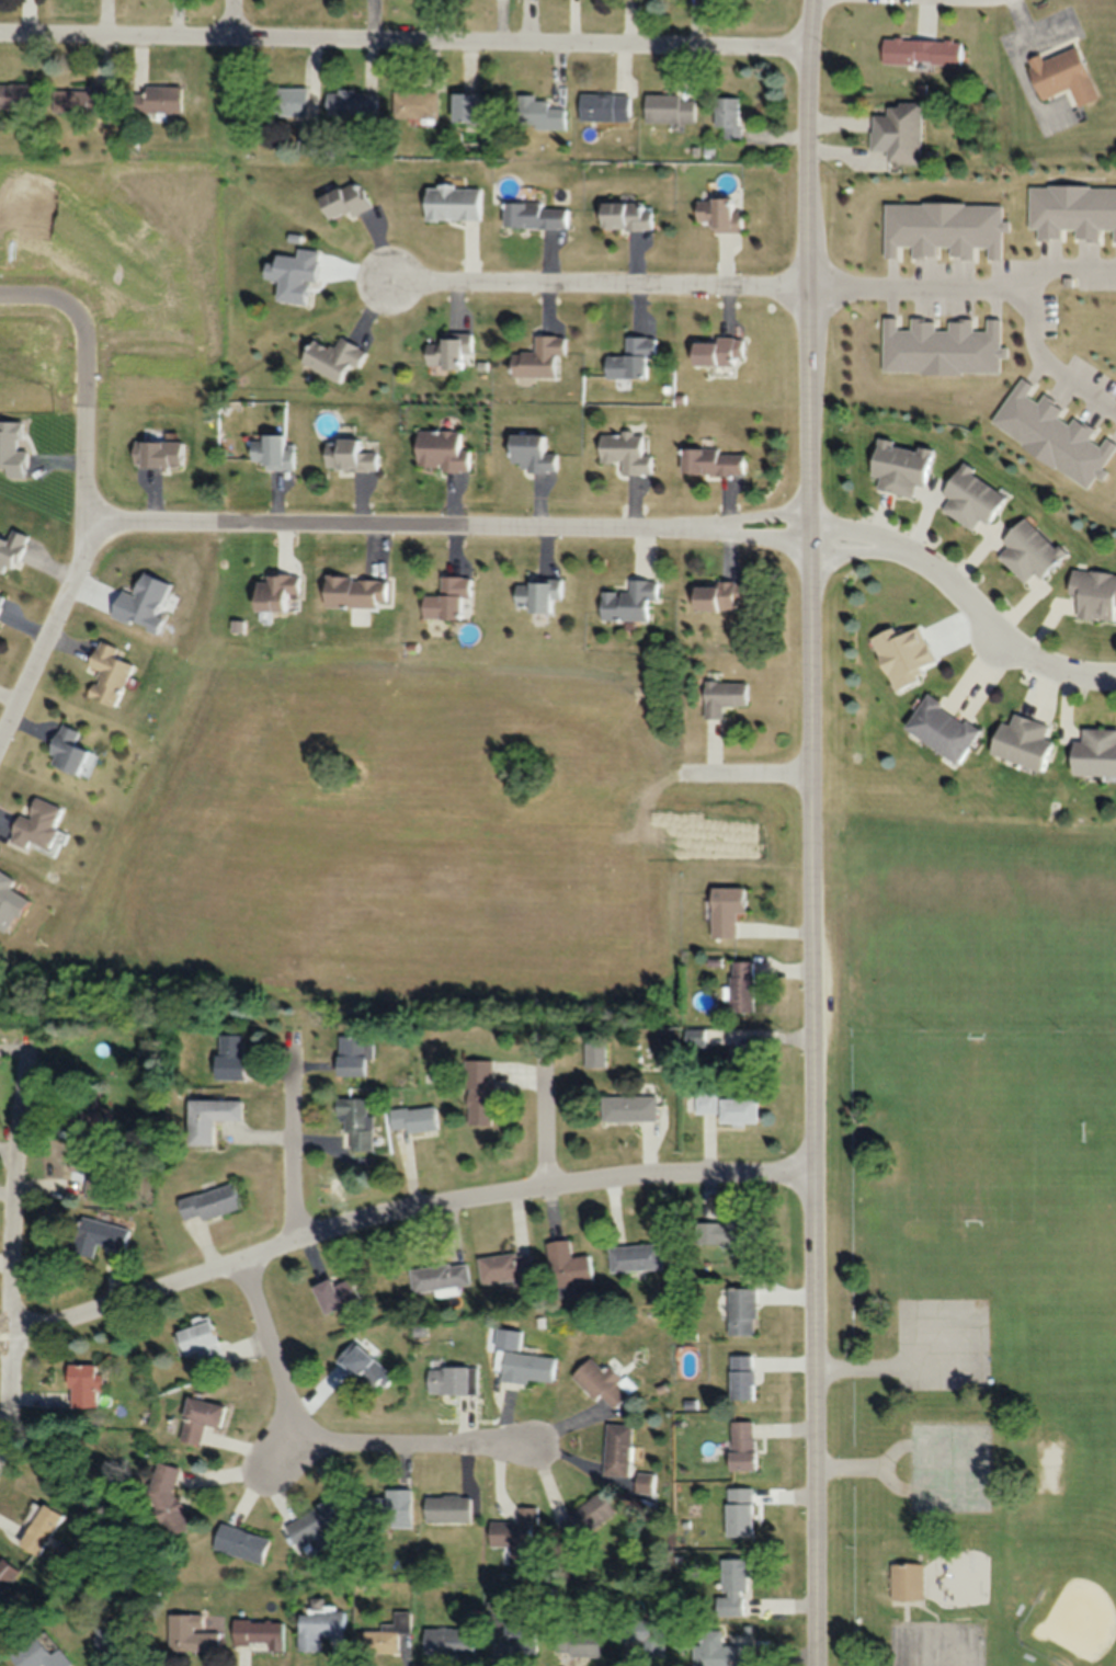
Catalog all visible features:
road: (235, 22)
road: (402, 45)
building: (920, 50)
building: (1060, 76)
building: (13, 95)
building: (81, 99)
building: (152, 100)
building: (289, 100)
building: (352, 103)
building: (414, 104)
building: (604, 106)
building: (474, 107)
building: (661, 107)
building: (539, 113)
building: (727, 115)
building: (898, 132)
building: (342, 199)
building: (452, 202)
building: (717, 213)
building: (624, 214)
building: (535, 215)
road: (1064, 265)
building: (295, 274)
road: (596, 281)
road: (916, 288)
building: (448, 350)
building: (714, 351)
building: (537, 356)
building: (331, 357)
building: (629, 357)
road: (1051, 364)
road: (84, 374)
building: (439, 450)
building: (529, 452)
building: (622, 452)
building: (271, 453)
building: (346, 455)
building: (710, 461)
building: (898, 466)
building: (969, 498)
road: (751, 515)
road: (389, 522)
road: (855, 529)
road: (751, 534)
building: (11, 548)
road: (854, 550)
building: (1026, 550)
building: (354, 591)
building: (273, 592)
building: (1093, 593)
building: (534, 594)
building: (715, 595)
building: (0, 596)
building: (446, 598)
building: (628, 600)
road: (999, 629)
road: (48, 630)
road: (998, 640)
building: (105, 674)
building: (720, 696)
building: (938, 729)
building: (1018, 742)
building: (1093, 752)
building: (69, 753)
road: (744, 771)
building: (37, 825)
road: (809, 832)
building: (725, 910)
building: (740, 984)
building: (353, 1052)
building: (593, 1053)
building: (230, 1055)
building: (743, 1055)
building: (478, 1091)
building: (705, 1102)
building: (627, 1107)
building: (736, 1109)
building: (83, 1112)
building: (209, 1117)
building: (412, 1117)
road: (544, 1120)
building: (356, 1121)
park: (1098, 1129)
road: (294, 1145)
building: (94, 1169)
building: (207, 1201)
road: (400, 1222)
building: (726, 1231)
building: (98, 1235)
park: (969, 1240)
road: (12, 1252)
building: (635, 1256)
building: (505, 1266)
building: (567, 1267)
building: (441, 1278)
building: (338, 1294)
building: (740, 1310)
building: (201, 1342)
building: (526, 1367)
building: (367, 1369)
building: (740, 1376)
building: (452, 1379)
building: (603, 1382)
building: (82, 1385)
building: (200, 1419)
building: (740, 1444)
road: (327, 1446)
road: (298, 1447)
building: (616, 1448)
building: (644, 1482)
building: (167, 1498)
building: (387, 1508)
building: (446, 1508)
building: (738, 1510)
building: (588, 1516)
building: (317, 1525)
building: (41, 1529)
building: (514, 1533)
building: (240, 1542)
building: (7, 1574)
building: (906, 1579)
building: (733, 1582)
building: (318, 1625)
building: (511, 1628)
building: (258, 1631)
building: (192, 1632)
building: (644, 1633)
building: (117, 1635)
building: (380, 1640)
building: (448, 1640)
building: (579, 1641)
building: (719, 1650)
building: (39, 1654)

